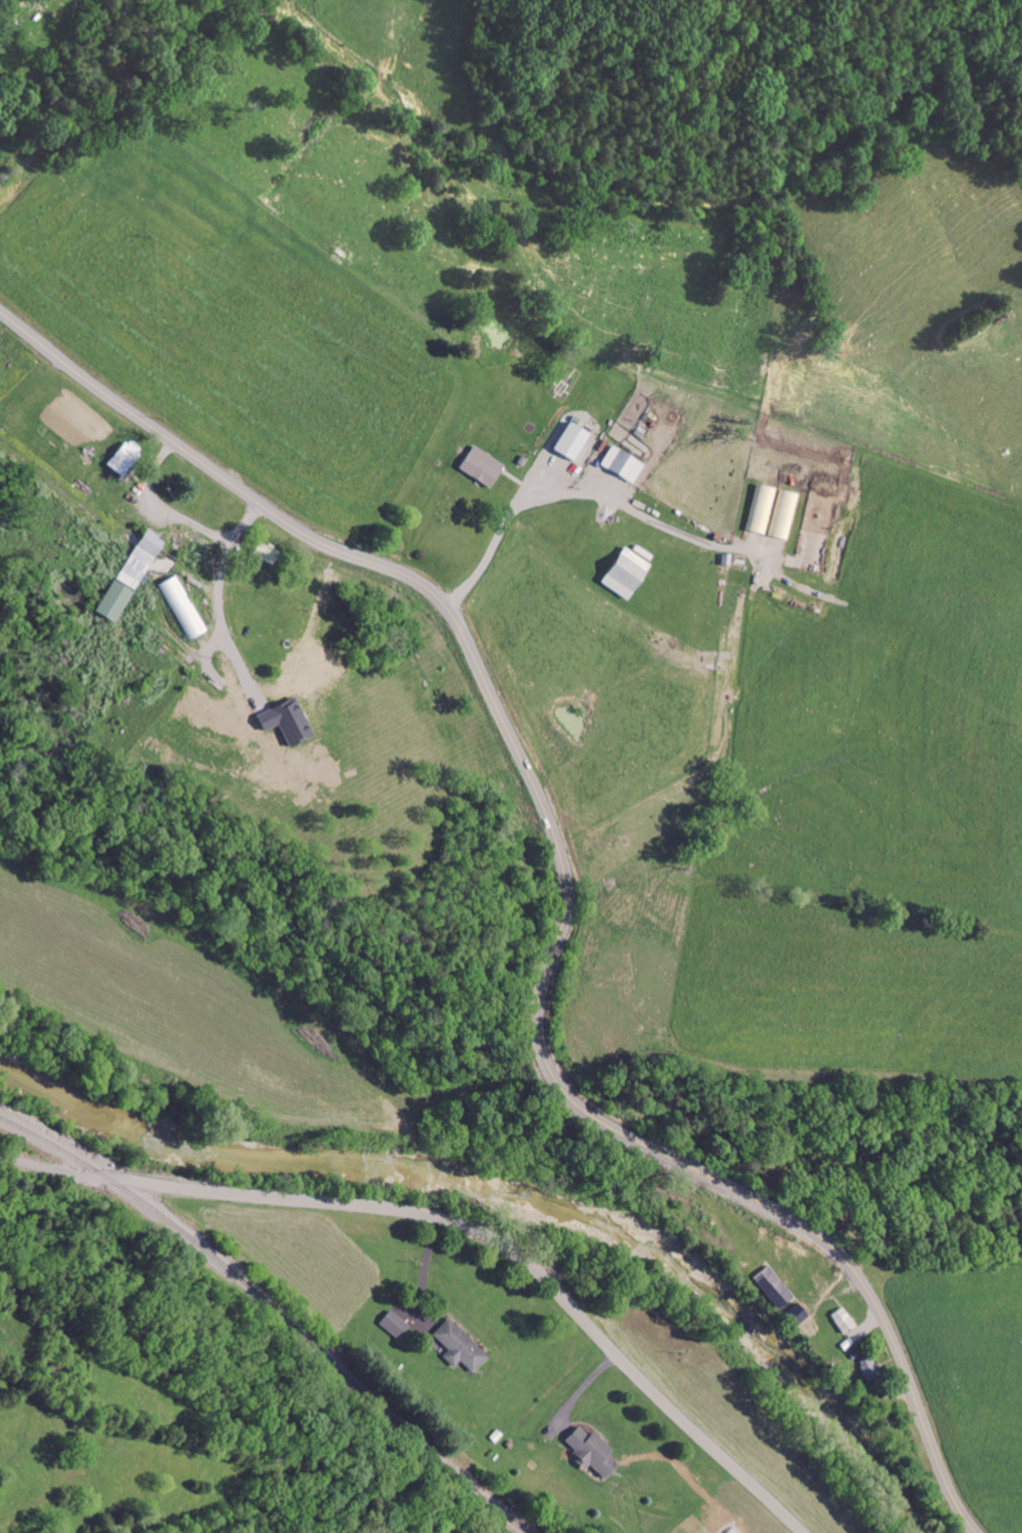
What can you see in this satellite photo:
building: (616, 421)
building: (168, 439)
building: (667, 445)
building: (527, 447)
road: (550, 493)
building: (671, 554)
building: (175, 557)
building: (227, 589)
road: (568, 888)
road: (458, 1223)
road: (426, 1266)
building: (438, 1306)
railway: (272, 1314)
building: (504, 1327)
building: (912, 1350)
building: (636, 1433)

